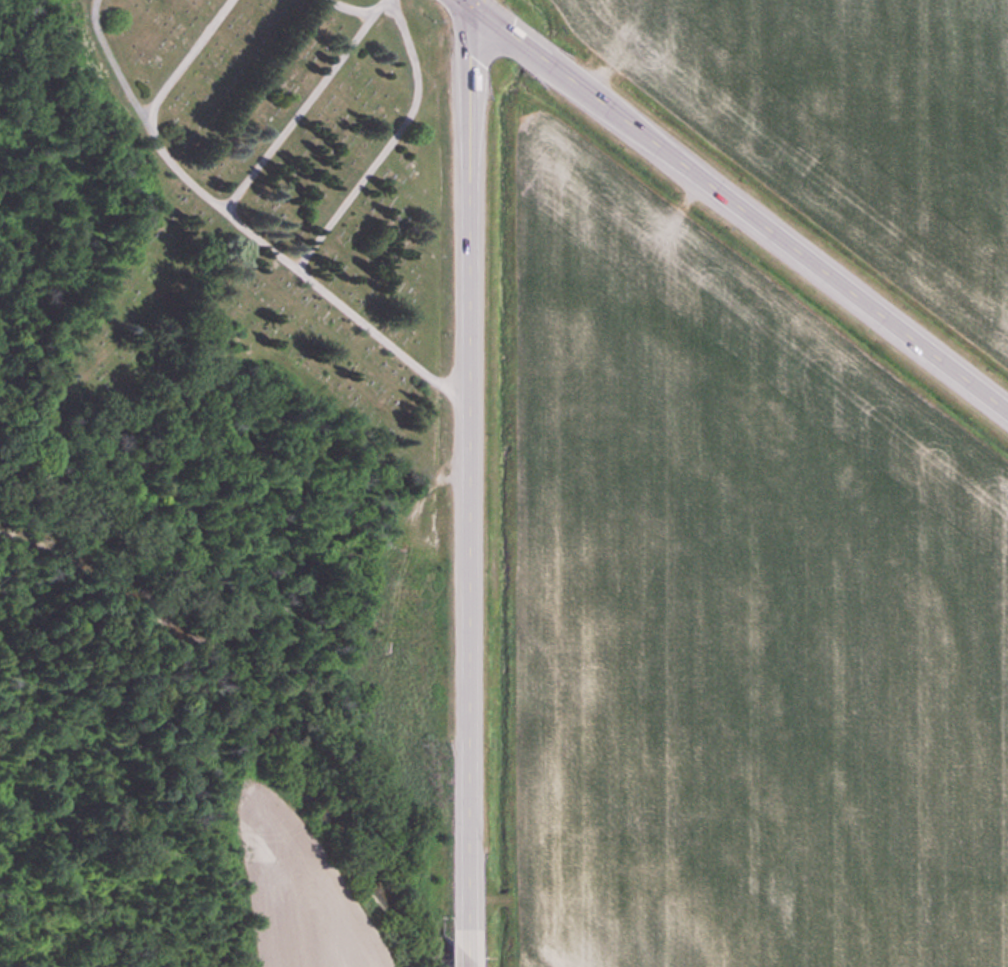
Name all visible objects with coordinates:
road: (470, 3)
road: (734, 206)
road: (268, 222)
park: (252, 296)
road: (469, 487)

